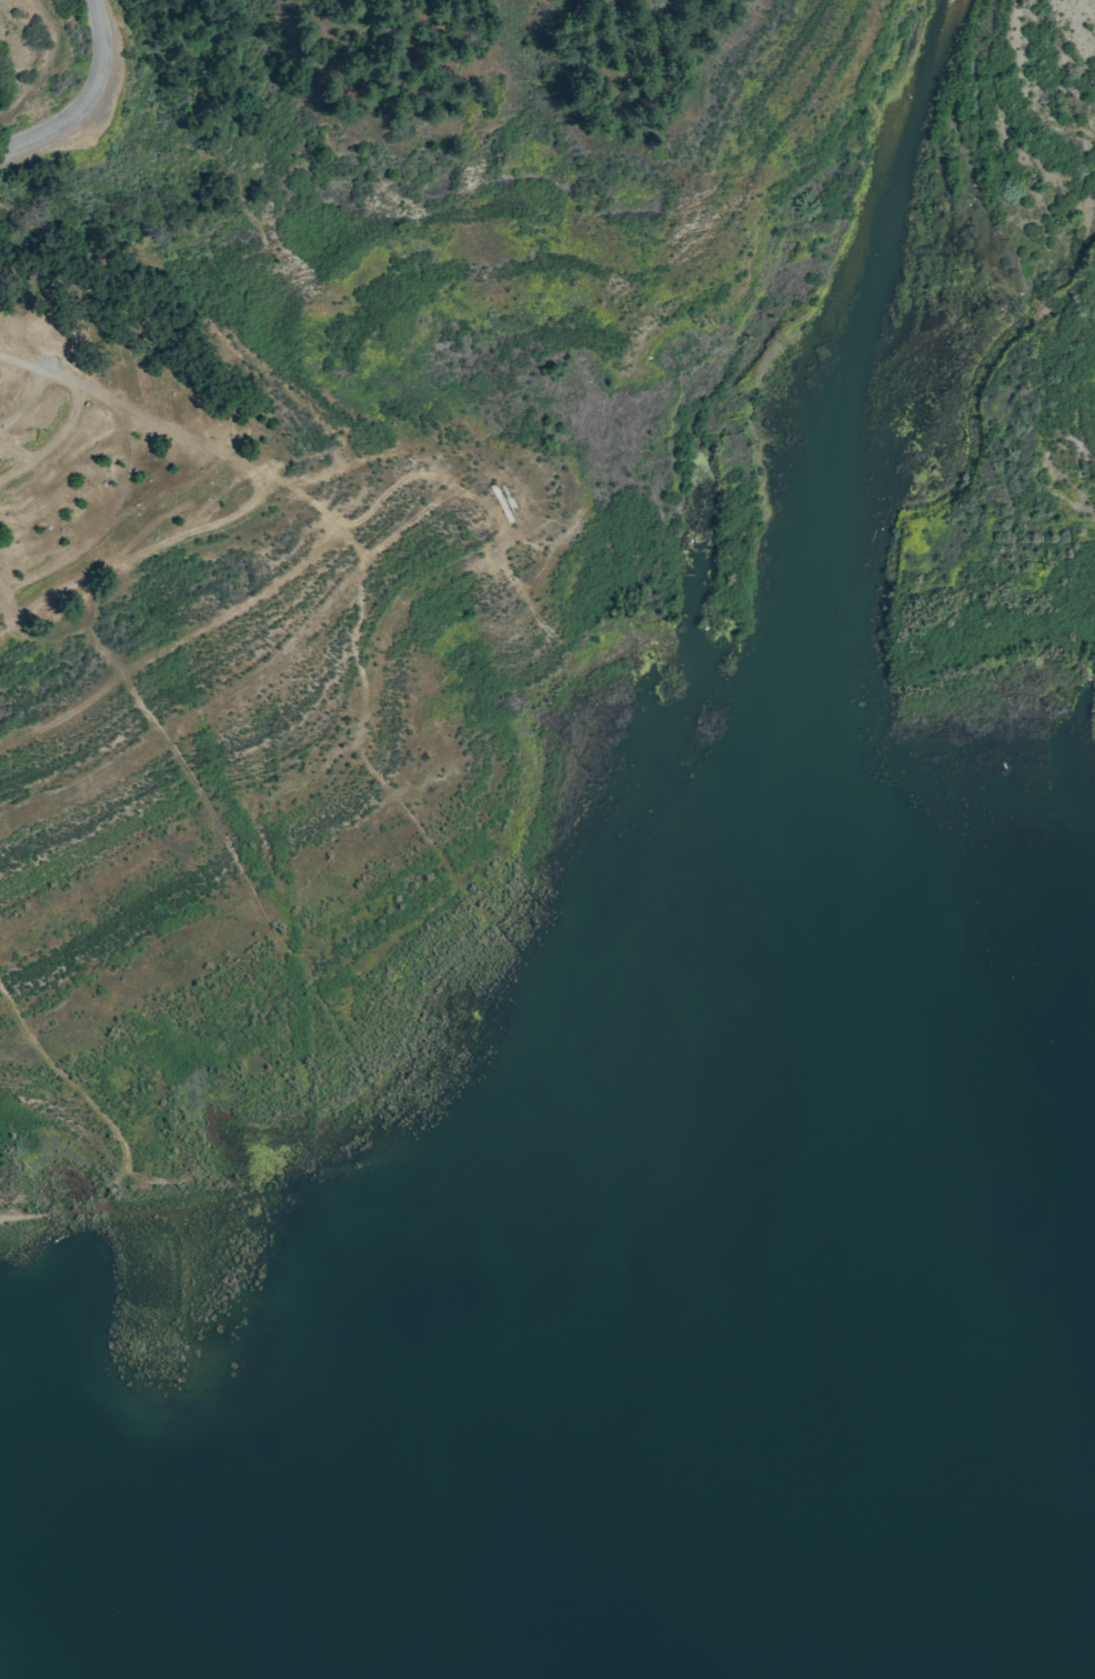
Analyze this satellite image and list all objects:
road: (28, 60)
road: (83, 93)
road: (110, 400)
road: (27, 401)
road: (54, 440)
park: (460, 520)
road: (155, 547)
road: (7, 604)

